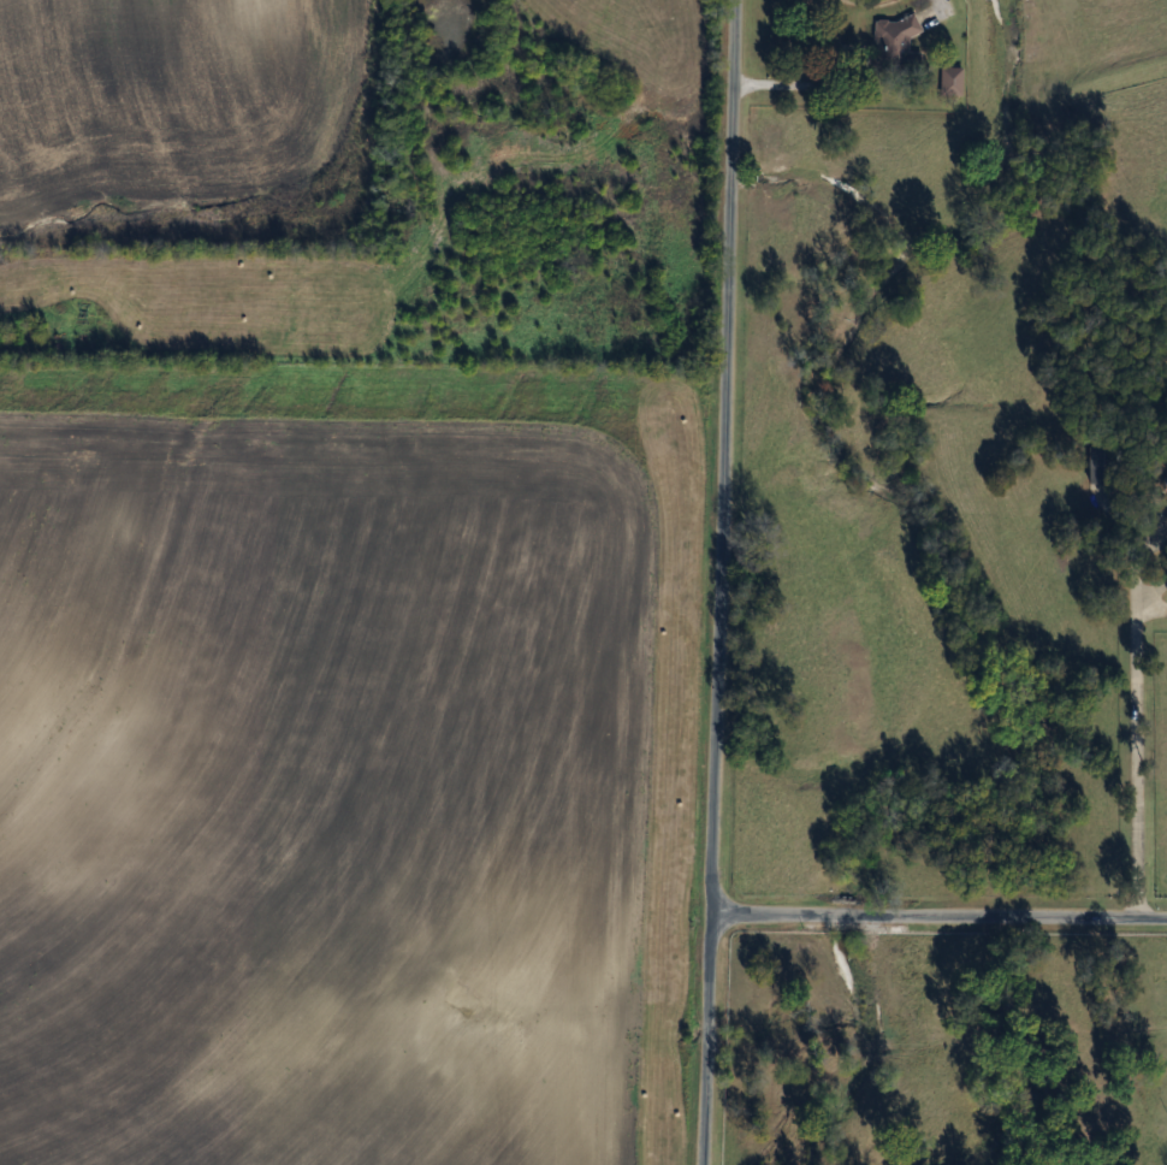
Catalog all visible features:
road: (800, 41)
building: (899, 42)
road: (831, 53)
building: (955, 81)
road: (765, 82)
building: (1107, 463)
road: (722, 582)
road: (1132, 746)
road: (938, 912)

